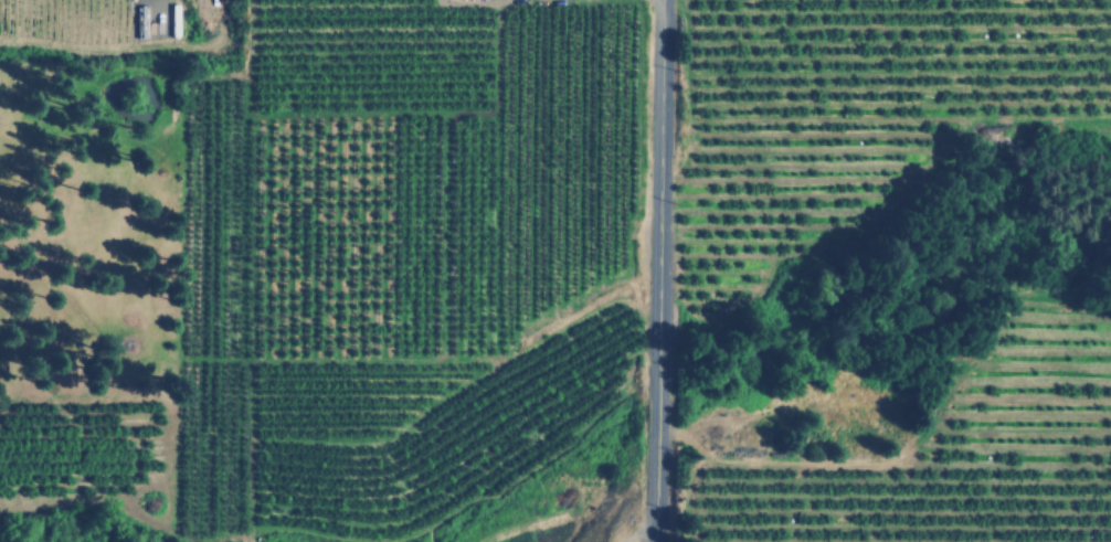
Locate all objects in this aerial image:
road: (652, 270)

